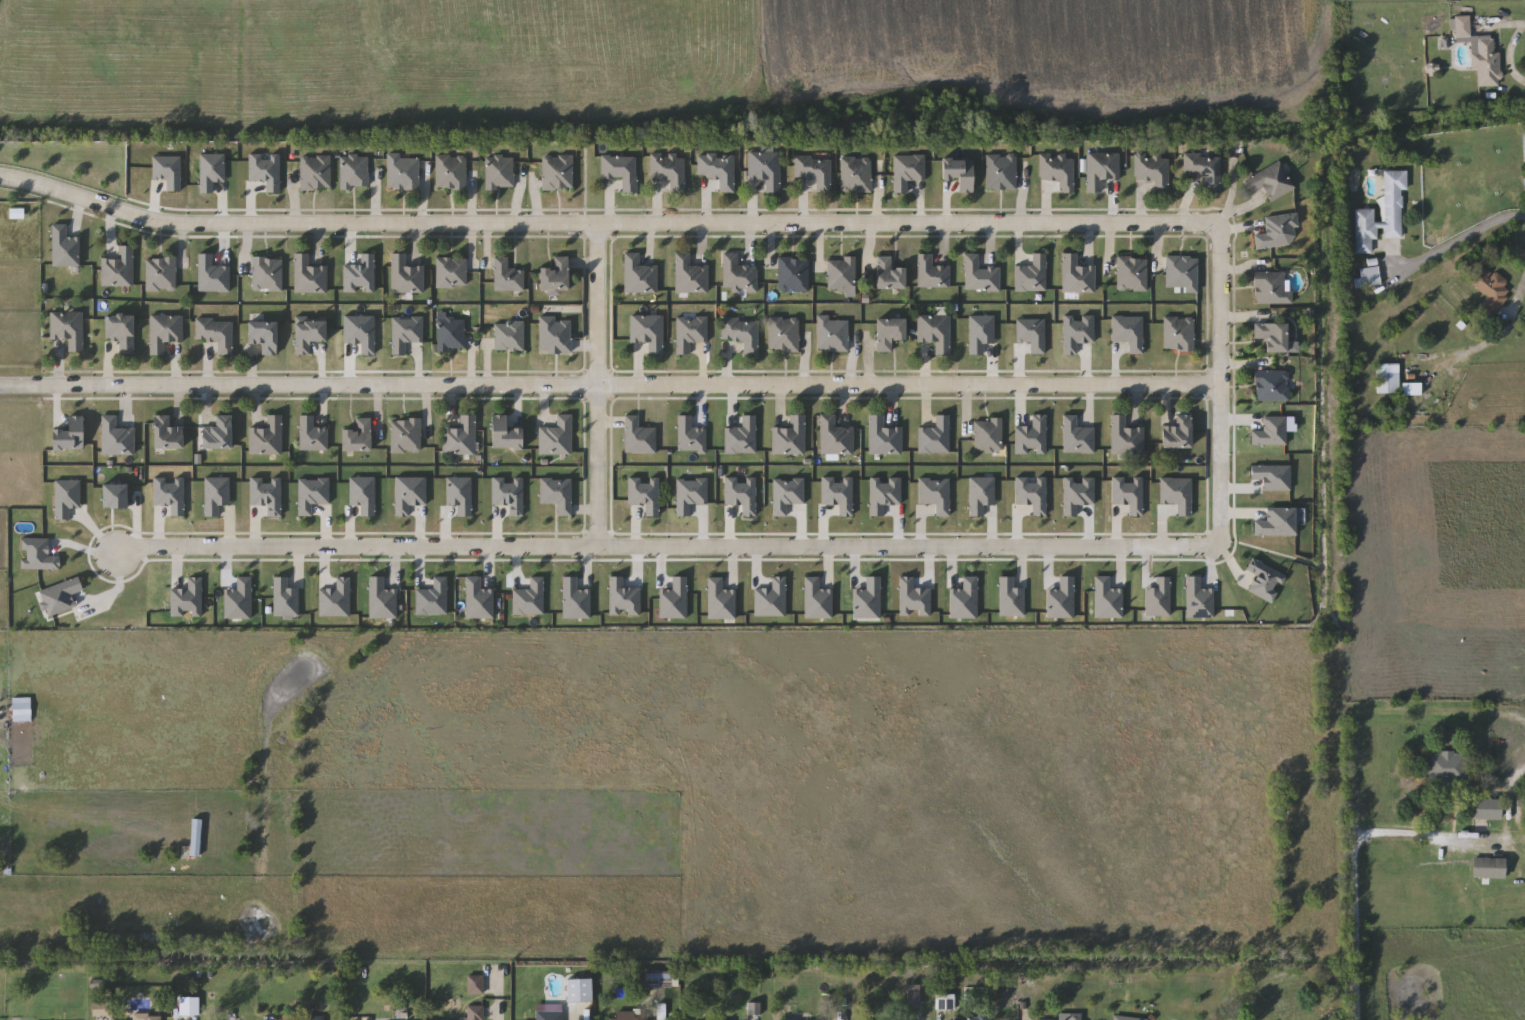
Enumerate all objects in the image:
road: (1500, 25)
building: (1462, 26)
road: (1512, 57)
building: (1487, 64)
building: (765, 169)
building: (1100, 169)
building: (1203, 169)
building: (620, 170)
building: (669, 170)
building: (717, 170)
building: (814, 171)
building: (1059, 171)
building: (1153, 171)
building: (402, 172)
building: (451, 172)
building: (557, 172)
building: (1001, 172)
building: (315, 173)
building: (354, 173)
building: (499, 173)
building: (856, 175)
building: (1270, 182)
building: (1364, 215)
road: (608, 222)
building: (1277, 231)
road: (1458, 238)
building: (118, 269)
building: (451, 272)
building: (931, 272)
building: (1181, 273)
building: (160, 274)
building: (267, 274)
building: (793, 274)
building: (841, 274)
building: (888, 274)
building: (1131, 274)
building: (554, 275)
building: (639, 275)
building: (690, 275)
building: (738, 275)
building: (980, 275)
building: (308, 276)
building: (405, 276)
building: (506, 276)
building: (1076, 276)
building: (1368, 278)
building: (1271, 288)
building: (1491, 288)
building: (67, 329)
building: (119, 332)
building: (647, 332)
building: (934, 332)
building: (163, 333)
building: (887, 333)
building: (215, 334)
building: (451, 334)
building: (741, 334)
building: (832, 334)
building: (1178, 334)
building: (783, 335)
building: (508, 336)
building: (1271, 336)
building: (262, 337)
road: (1485, 345)
building: (1388, 379)
road: (611, 382)
road: (603, 384)
road: (1223, 384)
building: (1270, 386)
building: (1412, 391)
building: (216, 434)
building: (166, 435)
building: (1176, 435)
building: (405, 436)
building: (689, 436)
building: (987, 436)
building: (356, 437)
building: (556, 437)
building: (834, 437)
building: (115, 438)
building: (266, 438)
building: (459, 438)
building: (742, 438)
building: (790, 438)
building: (882, 438)
building: (1124, 438)
road: (669, 547)
building: (21, 710)
building: (1448, 769)
road: (1524, 772)
road: (1355, 785)
building: (1487, 809)
road: (1415, 836)
building: (1488, 868)
building: (476, 985)
building: (579, 991)
road: (661, 1008)
building: (549, 1012)
building: (475, 1013)
road: (580, 1015)
building: (630, 1016)
building: (146, 1017)
building: (1066, 1017)
building: (303, 1018)
building: (970, 1018)
building: (1127, 1018)
road: (106, 1019)
road: (501, 1019)
road: (755, 1019)

